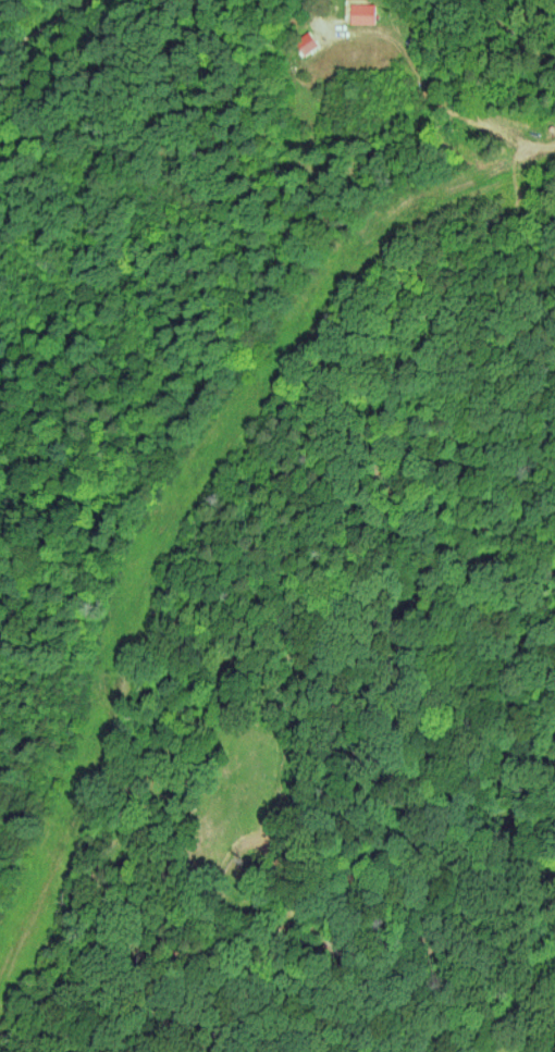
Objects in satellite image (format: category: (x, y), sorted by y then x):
road: (310, 12)
road: (54, 25)

